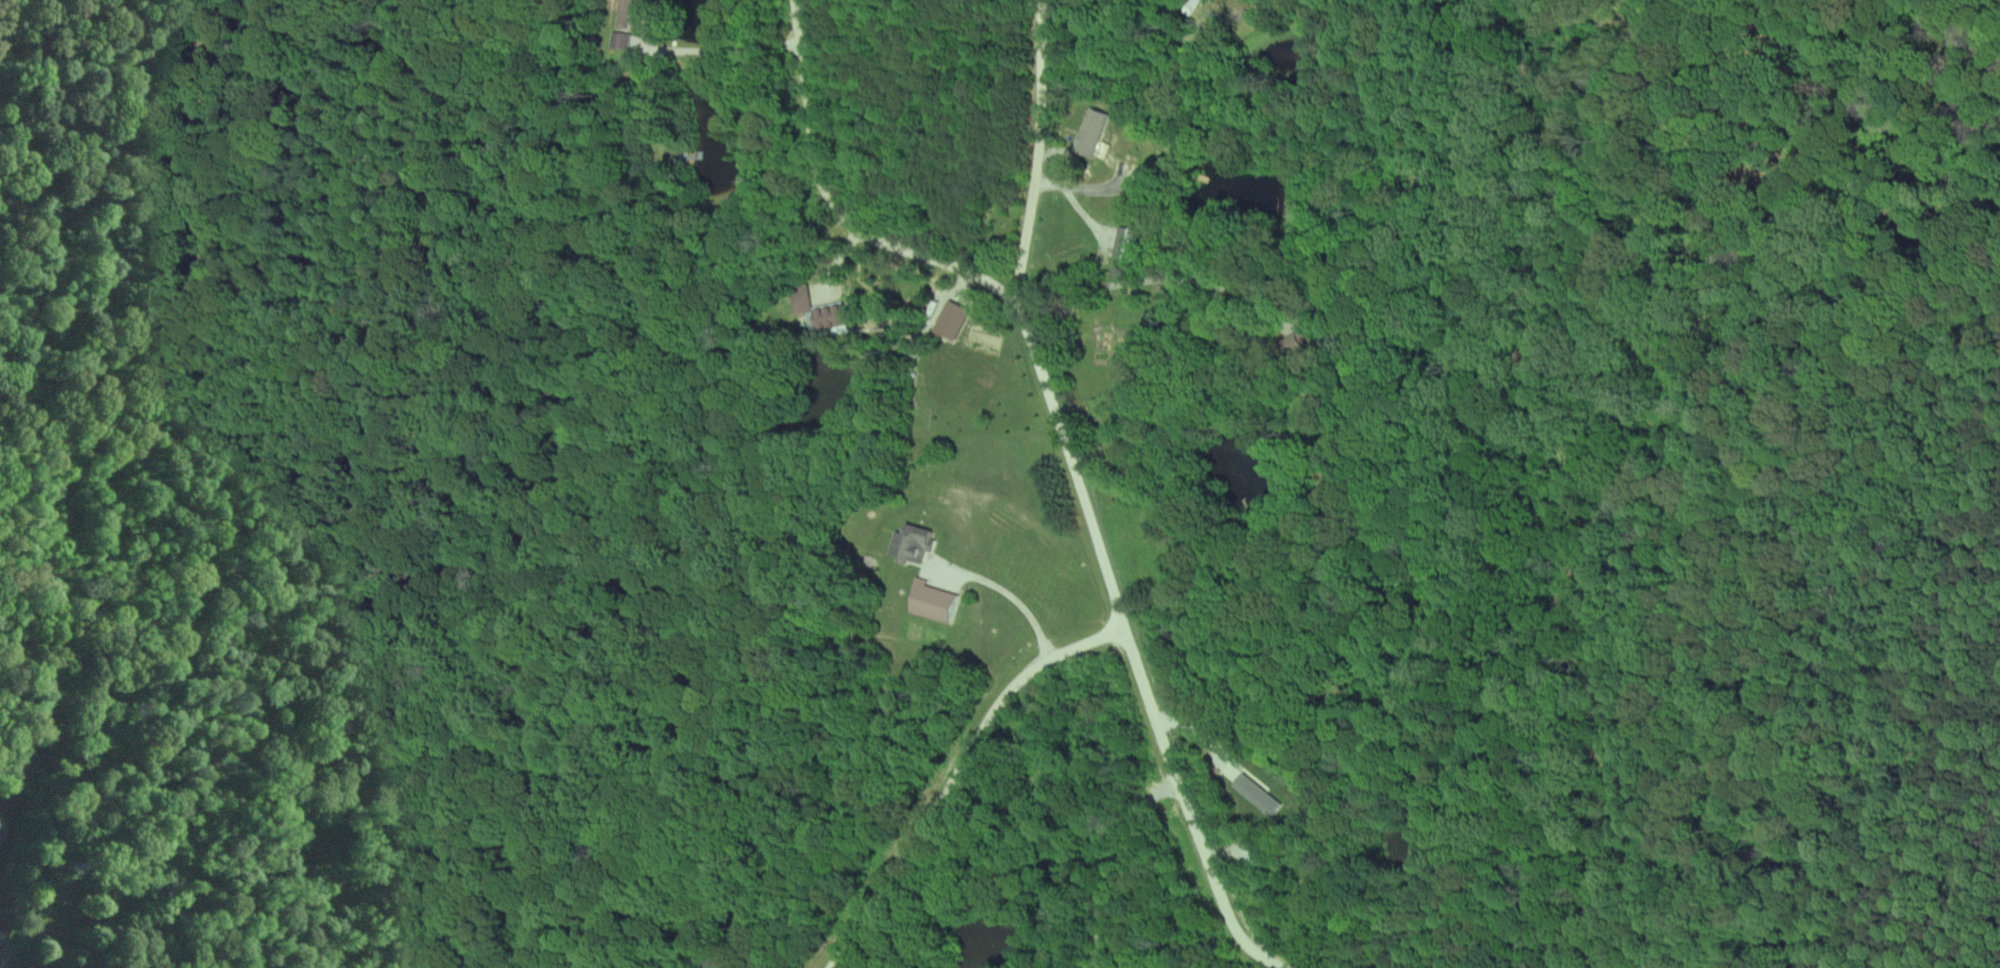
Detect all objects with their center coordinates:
building: (627, 12)
building: (619, 41)
road: (730, 49)
building: (1091, 132)
building: (1127, 243)
road: (978, 272)
road: (1151, 280)
building: (823, 314)
building: (951, 319)
road: (1793, 348)
road: (1073, 470)
building: (909, 543)
road: (1001, 591)
building: (931, 601)
road: (959, 776)
building: (1257, 795)
road: (1186, 810)
road: (1121, 866)
road: (1971, 875)
road: (1629, 932)
building: (17, 967)

